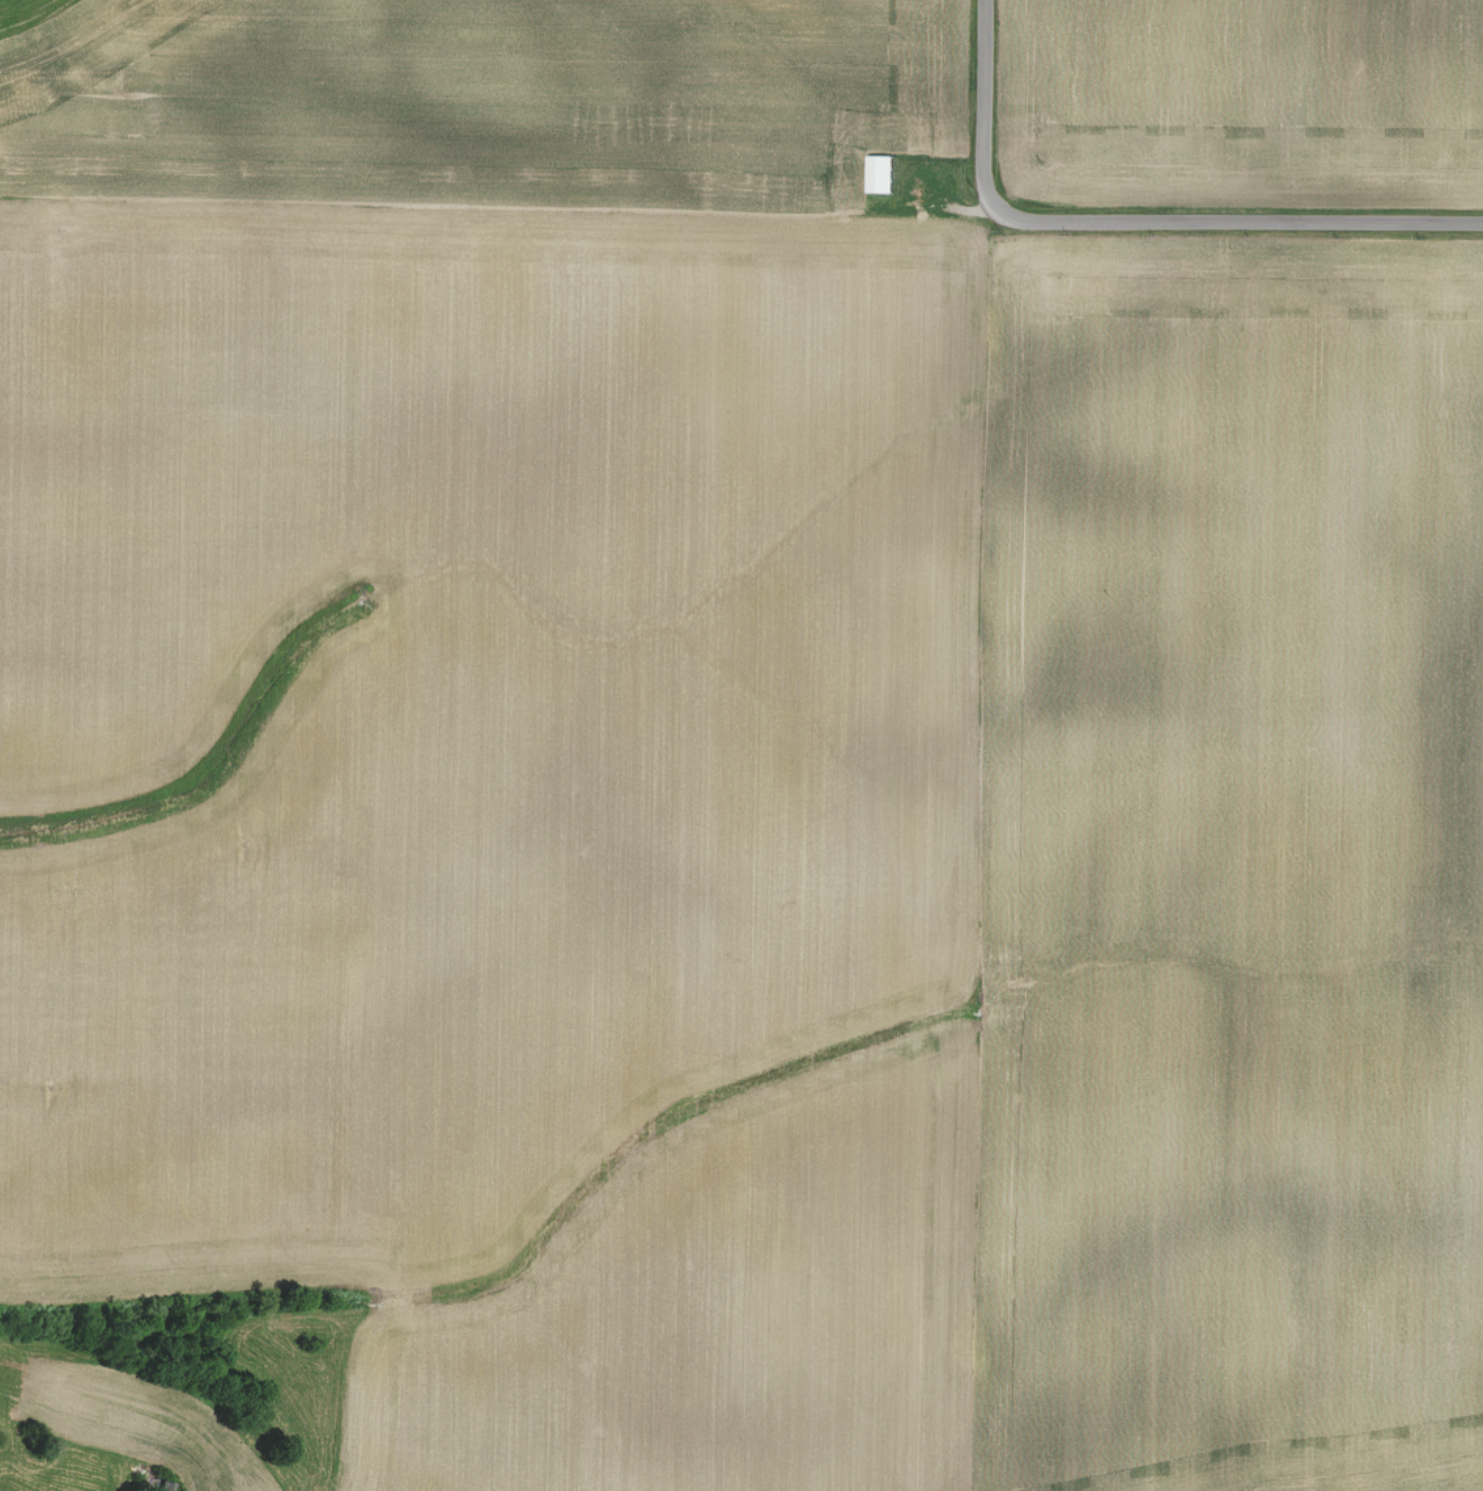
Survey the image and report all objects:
road: (979, 96)
building: (886, 173)
road: (1227, 221)

